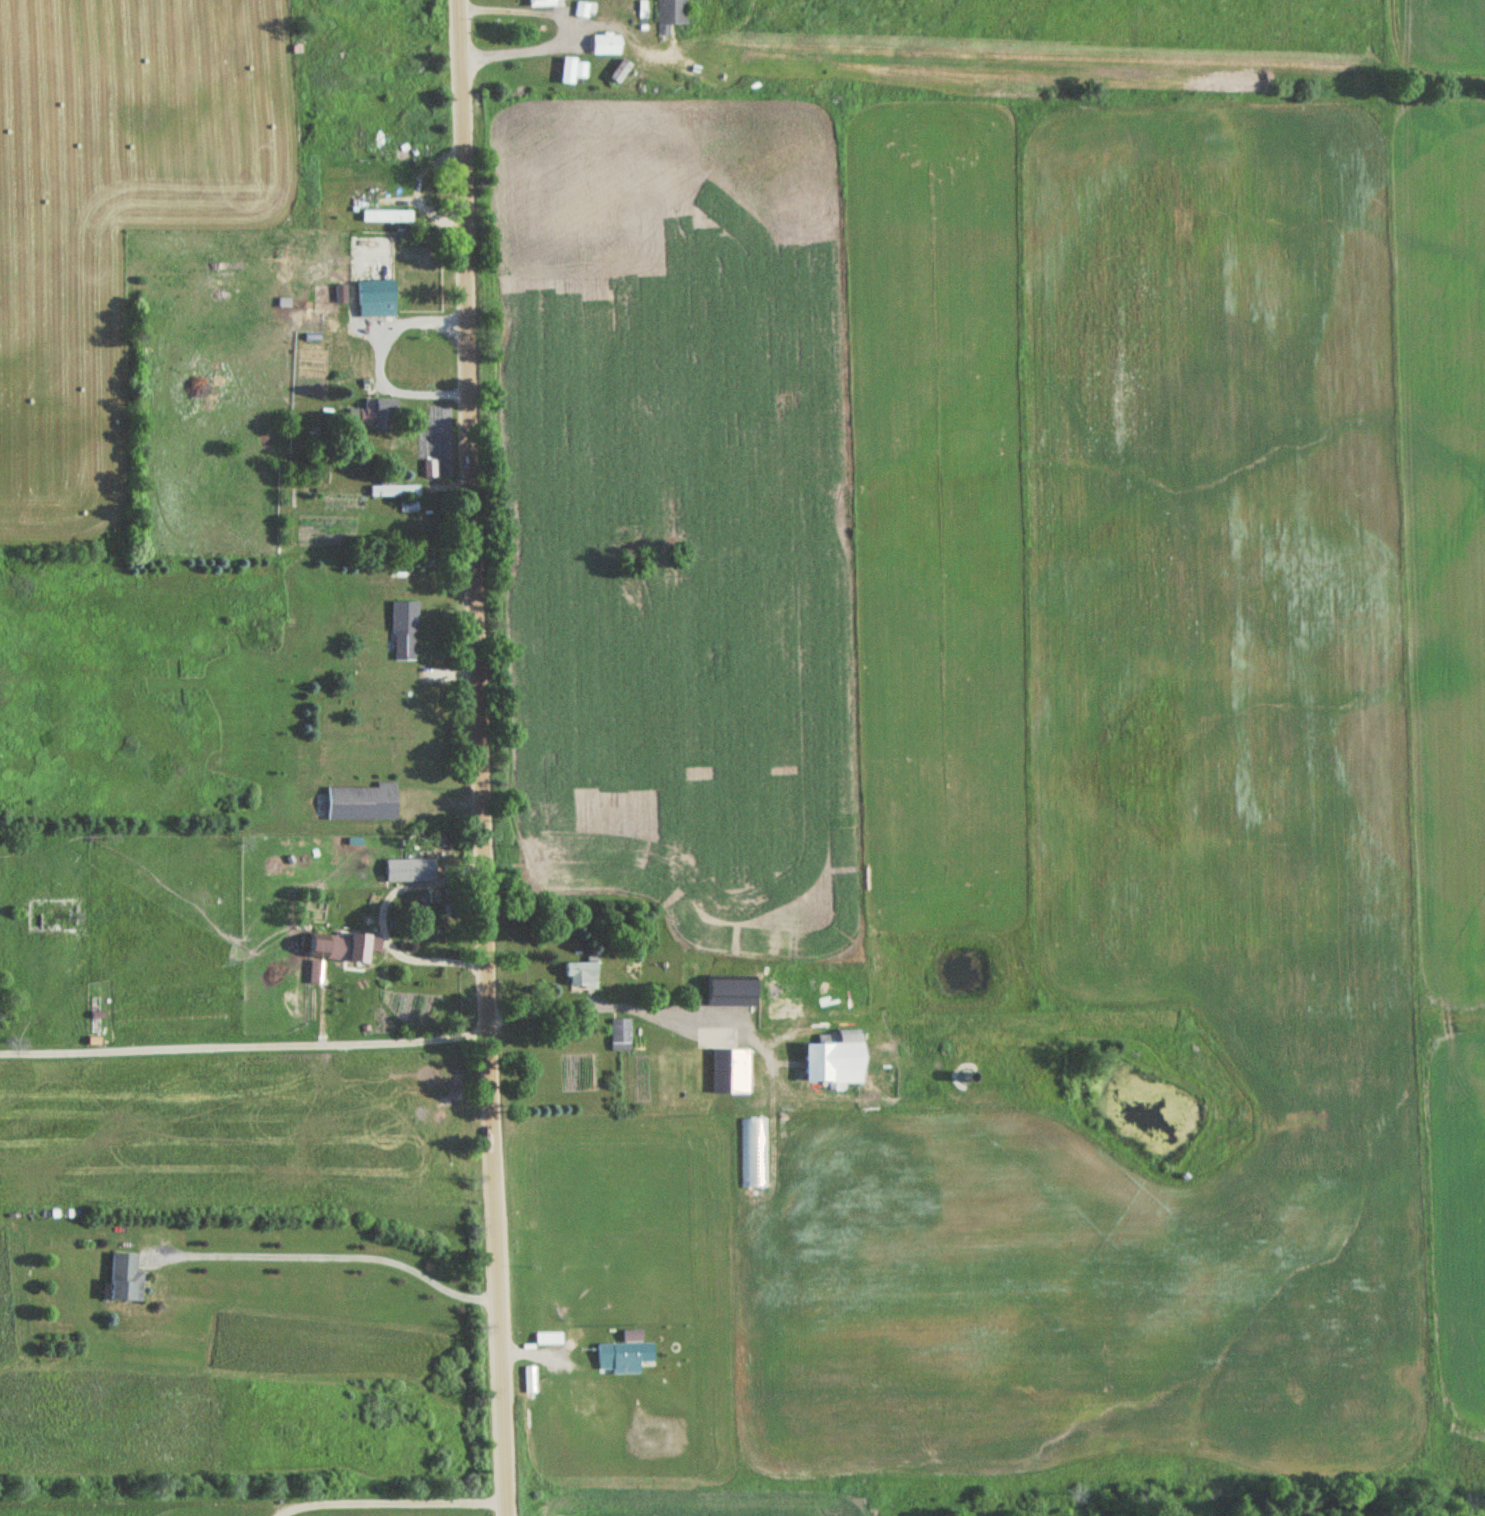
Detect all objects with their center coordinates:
building: (541, 3)
building: (642, 12)
building: (671, 14)
building: (604, 44)
building: (565, 69)
building: (581, 70)
building: (618, 71)
building: (416, 249)
building: (341, 293)
building: (377, 295)
building: (378, 413)
building: (394, 490)
building: (405, 630)
road: (480, 758)
building: (362, 802)
building: (408, 871)
building: (352, 952)
building: (579, 973)
building: (689, 979)
building: (728, 990)
building: (773, 1008)
road: (649, 1012)
building: (389, 1027)
building: (620, 1033)
parking lot: (716, 1036)
road: (781, 1037)
road: (244, 1047)
building: (829, 1058)
building: (729, 1069)
road: (329, 1255)
building: (123, 1276)
building: (548, 1338)
building: (626, 1352)
building: (529, 1380)

